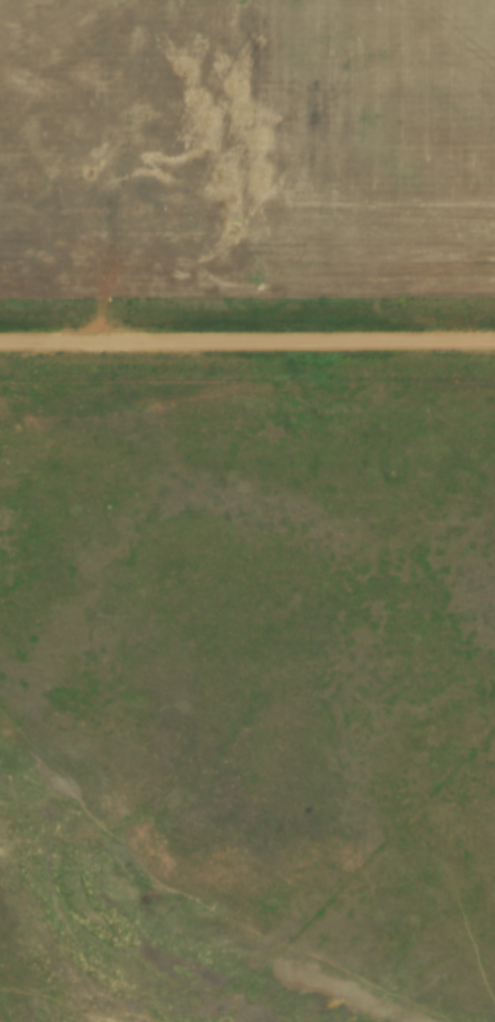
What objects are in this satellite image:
road: (247, 343)

